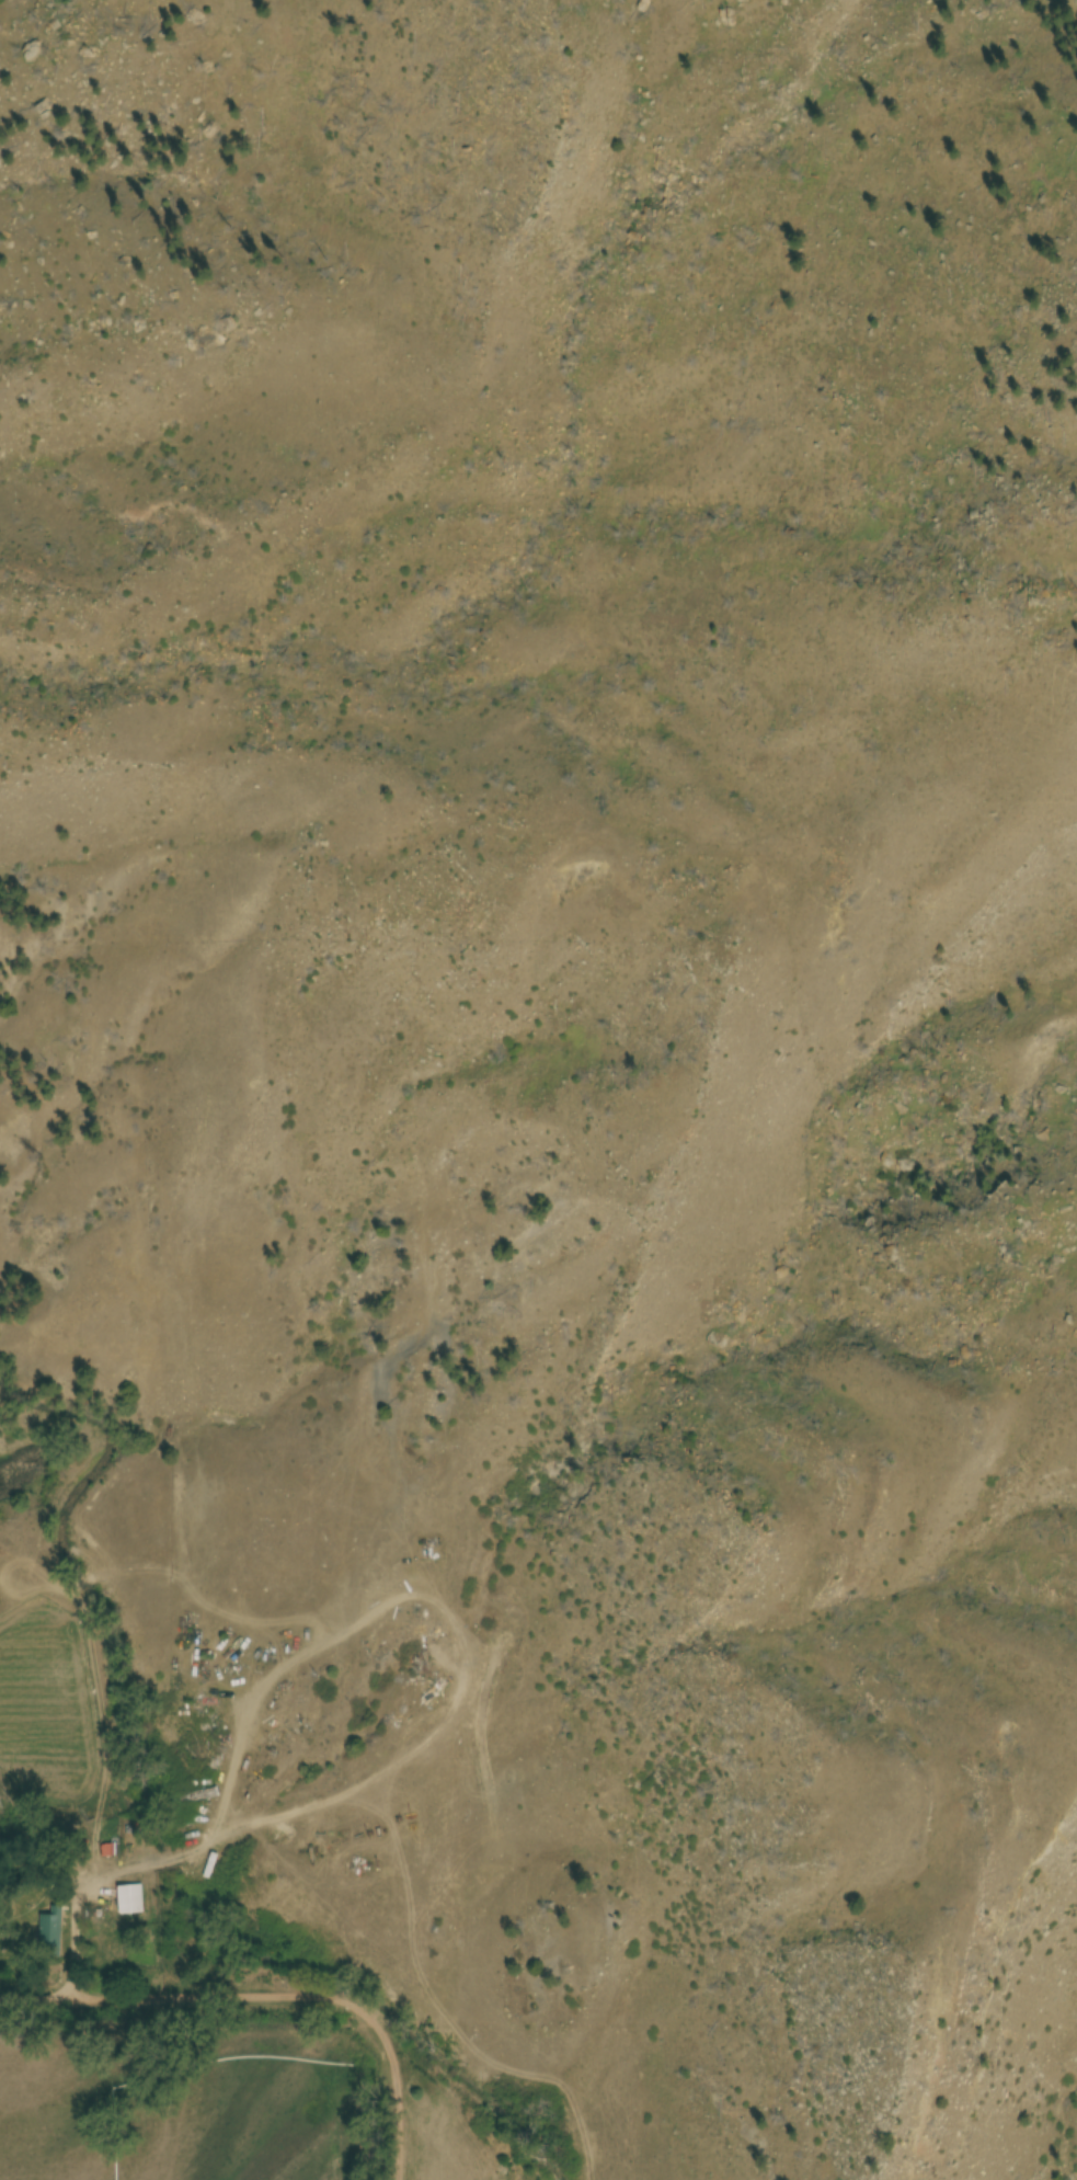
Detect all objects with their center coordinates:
building: (202, 1795)
building: (133, 1899)
building: (53, 1934)
road: (182, 2006)
road: (382, 2092)

